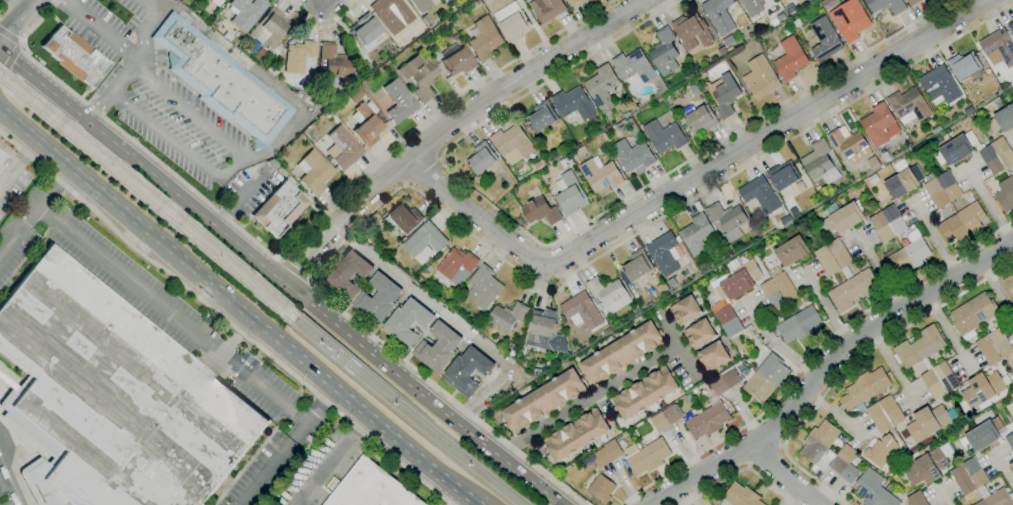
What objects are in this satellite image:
building: (208, 0)
building: (775, 0)
road: (323, 1)
building: (572, 2)
building: (912, 2)
gas station: (3, 3)
building: (828, 3)
road: (21, 5)
building: (422, 5)
building: (886, 5)
road: (6, 7)
building: (751, 7)
building: (546, 9)
building: (246, 12)
building: (391, 14)
building: (718, 15)
road: (18, 20)
building: (849, 20)
building: (511, 22)
building: (796, 23)
parking lot: (106, 25)
road: (321, 26)
building: (1010, 26)
building: (270, 29)
building: (365, 30)
road: (104, 31)
building: (691, 31)
road: (9, 37)
building: (228, 37)
building: (484, 39)
building: (824, 39)
building: (727, 41)
road: (21, 44)
building: (998, 46)
building: (663, 52)
building: (75, 56)
building: (299, 56)
road: (9, 59)
building: (789, 59)
building: (334, 61)
building: (458, 62)
road: (138, 63)
building: (963, 65)
building: (633, 66)
building: (760, 77)
building: (422, 81)
building: (221, 82)
road: (40, 85)
building: (939, 85)
building: (601, 88)
building: (694, 91)
building: (722, 95)
building: (355, 96)
building: (399, 101)
building: (572, 103)
building: (909, 104)
road: (191, 114)
building: (541, 117)
building: (1005, 118)
building: (700, 120)
road: (450, 124)
building: (877, 124)
building: (366, 125)
parking lot: (182, 126)
building: (631, 126)
building: (663, 136)
building: (604, 137)
road: (278, 140)
building: (512, 142)
building: (846, 143)
road: (177, 144)
building: (344, 147)
building: (579, 151)
building: (970, 152)
building: (1002, 152)
building: (632, 155)
building: (481, 158)
building: (2, 159)
building: (565, 162)
road: (19, 163)
building: (819, 163)
building: (873, 163)
building: (272, 164)
building: (537, 165)
road: (422, 172)
building: (315, 173)
building: (599, 175)
building: (782, 176)
road: (688, 180)
building: (900, 183)
building: (948, 186)
railway: (150, 193)
building: (935, 194)
building: (570, 195)
building: (759, 195)
building: (1005, 195)
road: (241, 199)
railway: (146, 204)
building: (278, 209)
road: (992, 210)
road: (35, 211)
building: (540, 211)
building: (726, 216)
building: (404, 218)
building: (843, 218)
building: (893, 220)
building: (785, 221)
building: (962, 223)
building: (881, 227)
road: (567, 233)
building: (696, 235)
building: (424, 240)
road: (935, 241)
road: (290, 247)
building: (791, 251)
building: (663, 253)
building: (908, 254)
road: (501, 259)
building: (456, 263)
building: (636, 266)
road: (296, 267)
road: (293, 272)
building: (345, 275)
road: (880, 275)
building: (844, 276)
building: (418, 279)
building: (738, 281)
building: (1008, 284)
building: (484, 287)
building: (784, 287)
building: (605, 290)
road: (996, 290)
building: (771, 295)
building: (377, 300)
road: (238, 306)
road: (828, 309)
building: (581, 310)
building: (684, 310)
road: (318, 313)
building: (973, 313)
road: (171, 315)
building: (507, 316)
road: (224, 319)
road: (450, 320)
building: (727, 321)
building: (406, 323)
building: (798, 325)
building: (544, 332)
road: (946, 333)
building: (699, 334)
road: (778, 345)
building: (993, 347)
building: (437, 348)
building: (918, 348)
building: (620, 353)
road: (680, 355)
road: (812, 355)
building: (1012, 355)
building: (712, 356)
road: (824, 366)
road: (850, 366)
road: (892, 366)
railway: (364, 371)
building: (466, 371)
building: (536, 373)
building: (764, 378)
railway: (357, 379)
building: (939, 380)
building: (724, 382)
building: (864, 388)
building: (980, 391)
building: (644, 393)
building: (112, 398)
building: (543, 401)
building: (1012, 402)
road: (586, 403)
road: (832, 413)
building: (884, 414)
building: (665, 418)
building: (707, 421)
building: (926, 423)
building: (575, 435)
building: (981, 436)
building: (818, 441)
building: (1009, 441)
road: (286, 445)
building: (606, 454)
building: (878, 454)
building: (646, 457)
road: (765, 457)
road: (333, 460)
railway: (480, 464)
building: (844, 464)
building: (925, 467)
railway: (469, 469)
road: (15, 470)
road: (1002, 470)
road: (740, 472)
building: (968, 476)
road: (783, 477)
building: (370, 488)
building: (600, 489)
building: (873, 490)
road: (942, 495)
building: (740, 496)
road: (789, 496)
road: (455, 498)
building: (996, 498)
building: (915, 499)

